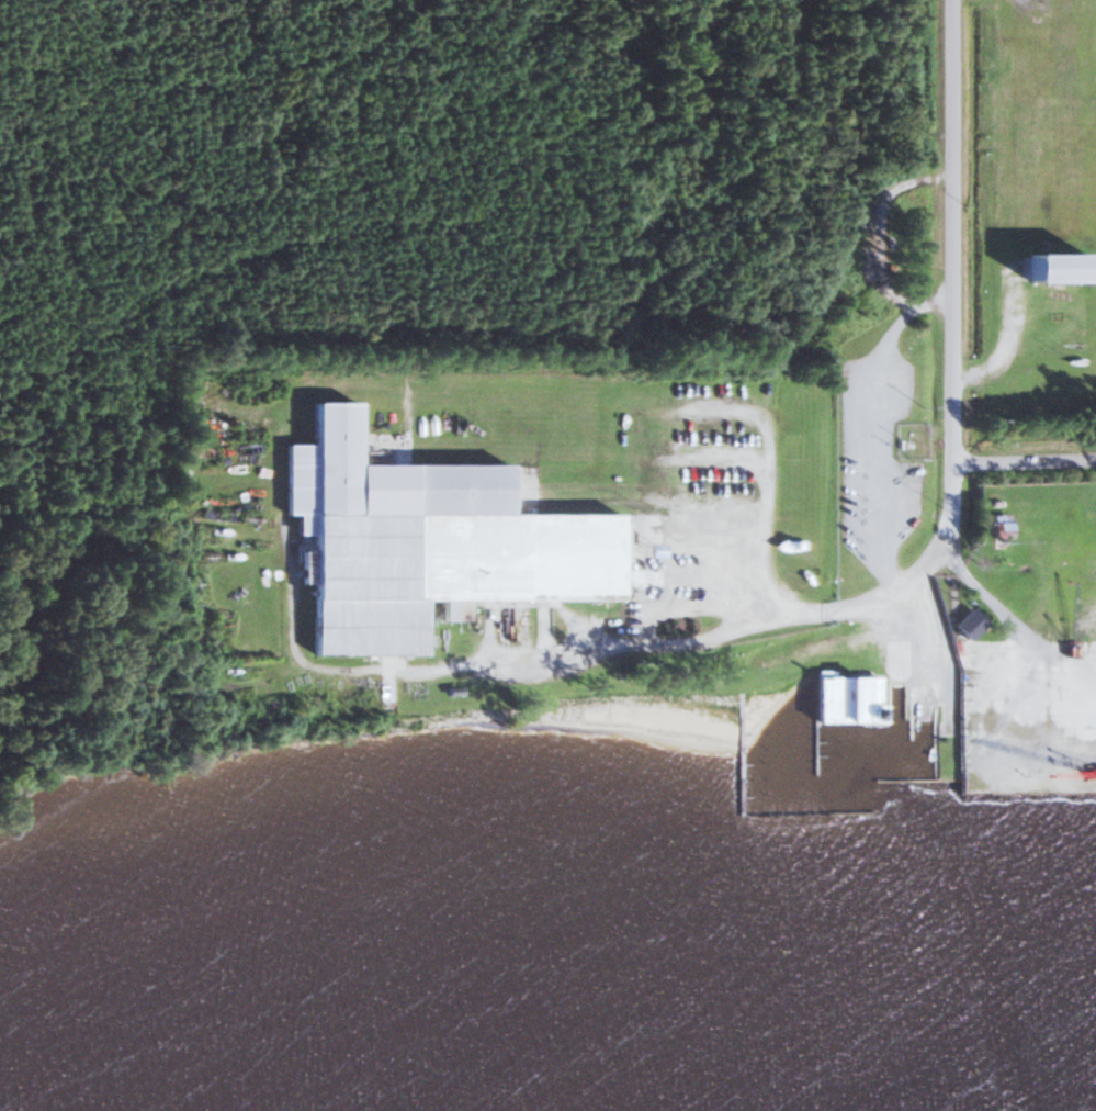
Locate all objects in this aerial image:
road: (951, 229)
building: (1052, 268)
road: (1024, 458)
road: (950, 501)
building: (997, 526)
building: (421, 542)
road: (794, 610)
building: (967, 625)
building: (844, 698)

